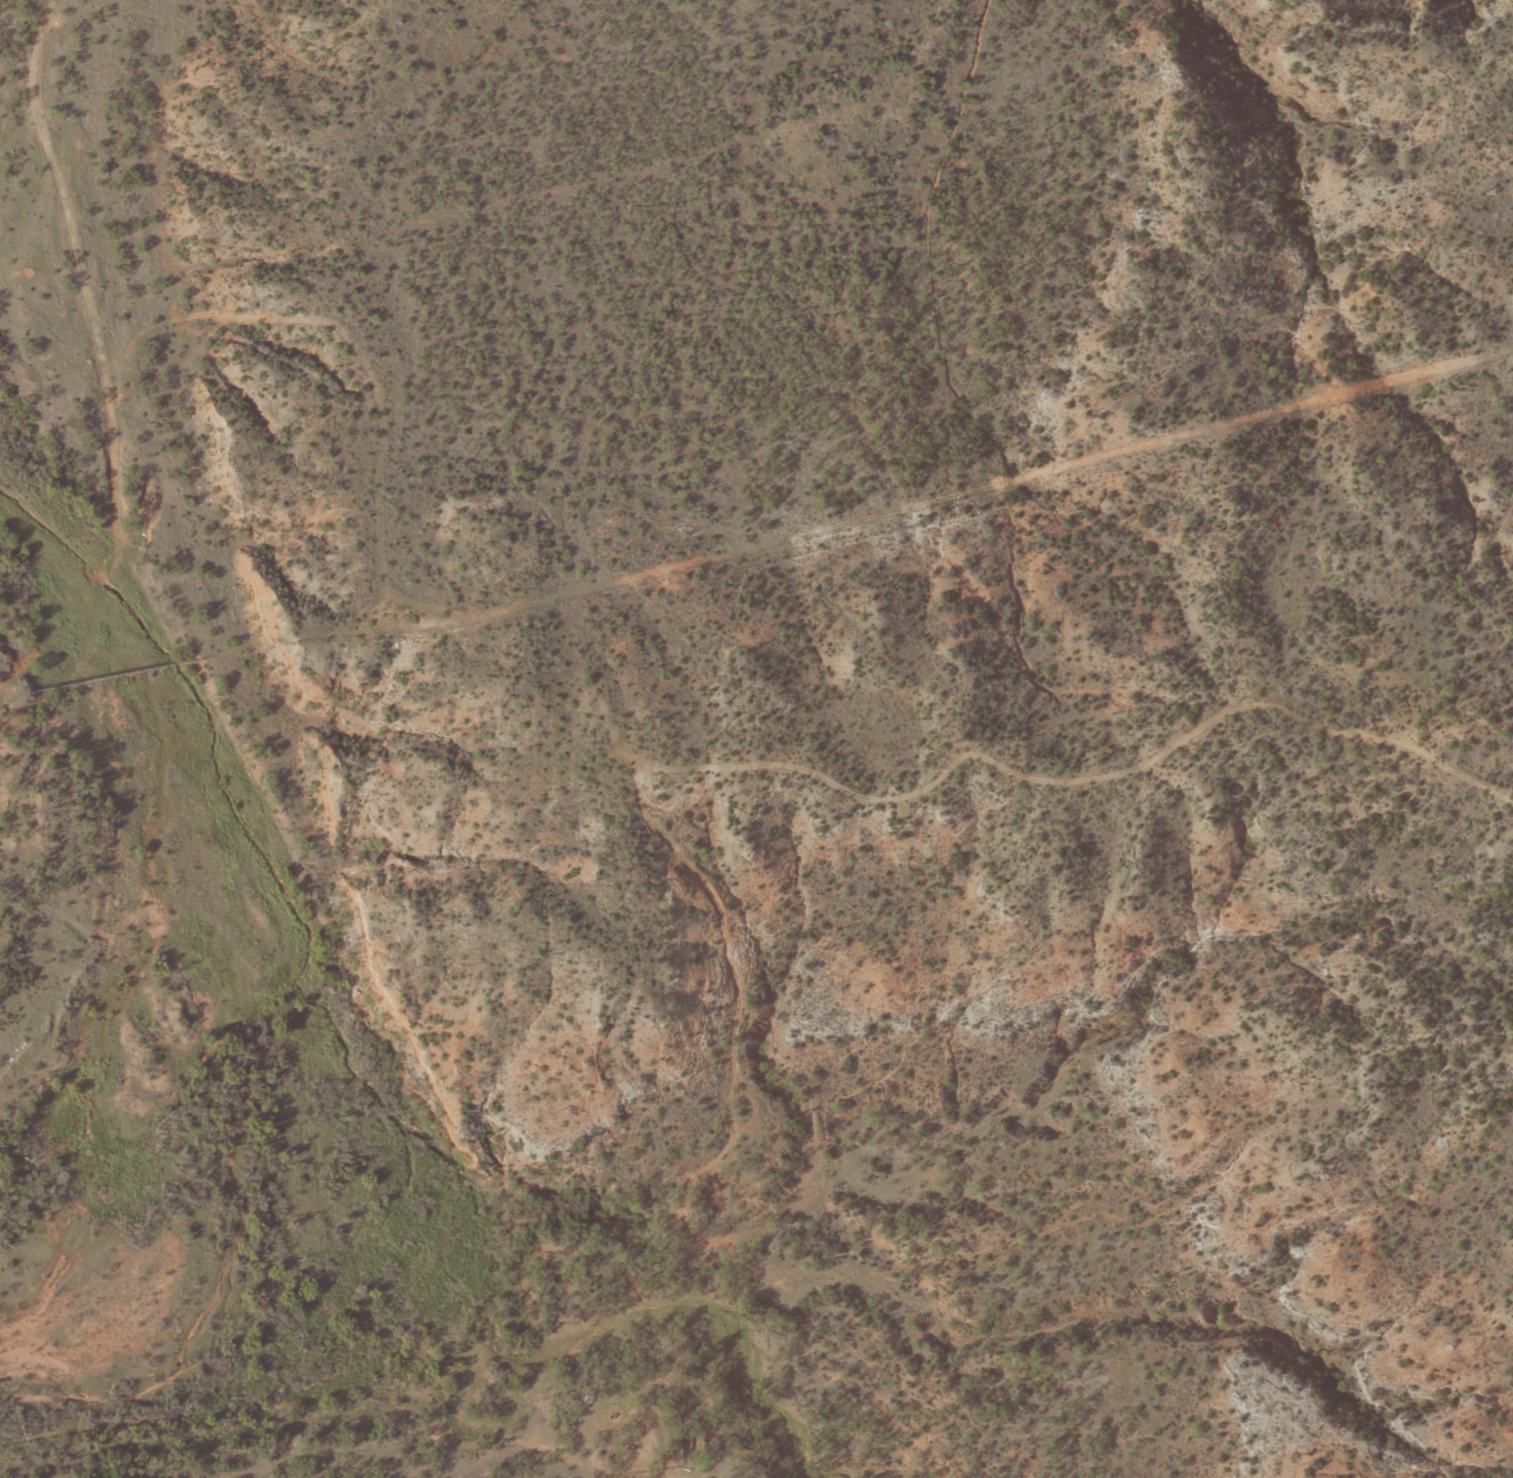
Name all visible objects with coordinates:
road: (131, 447)
road: (698, 756)

